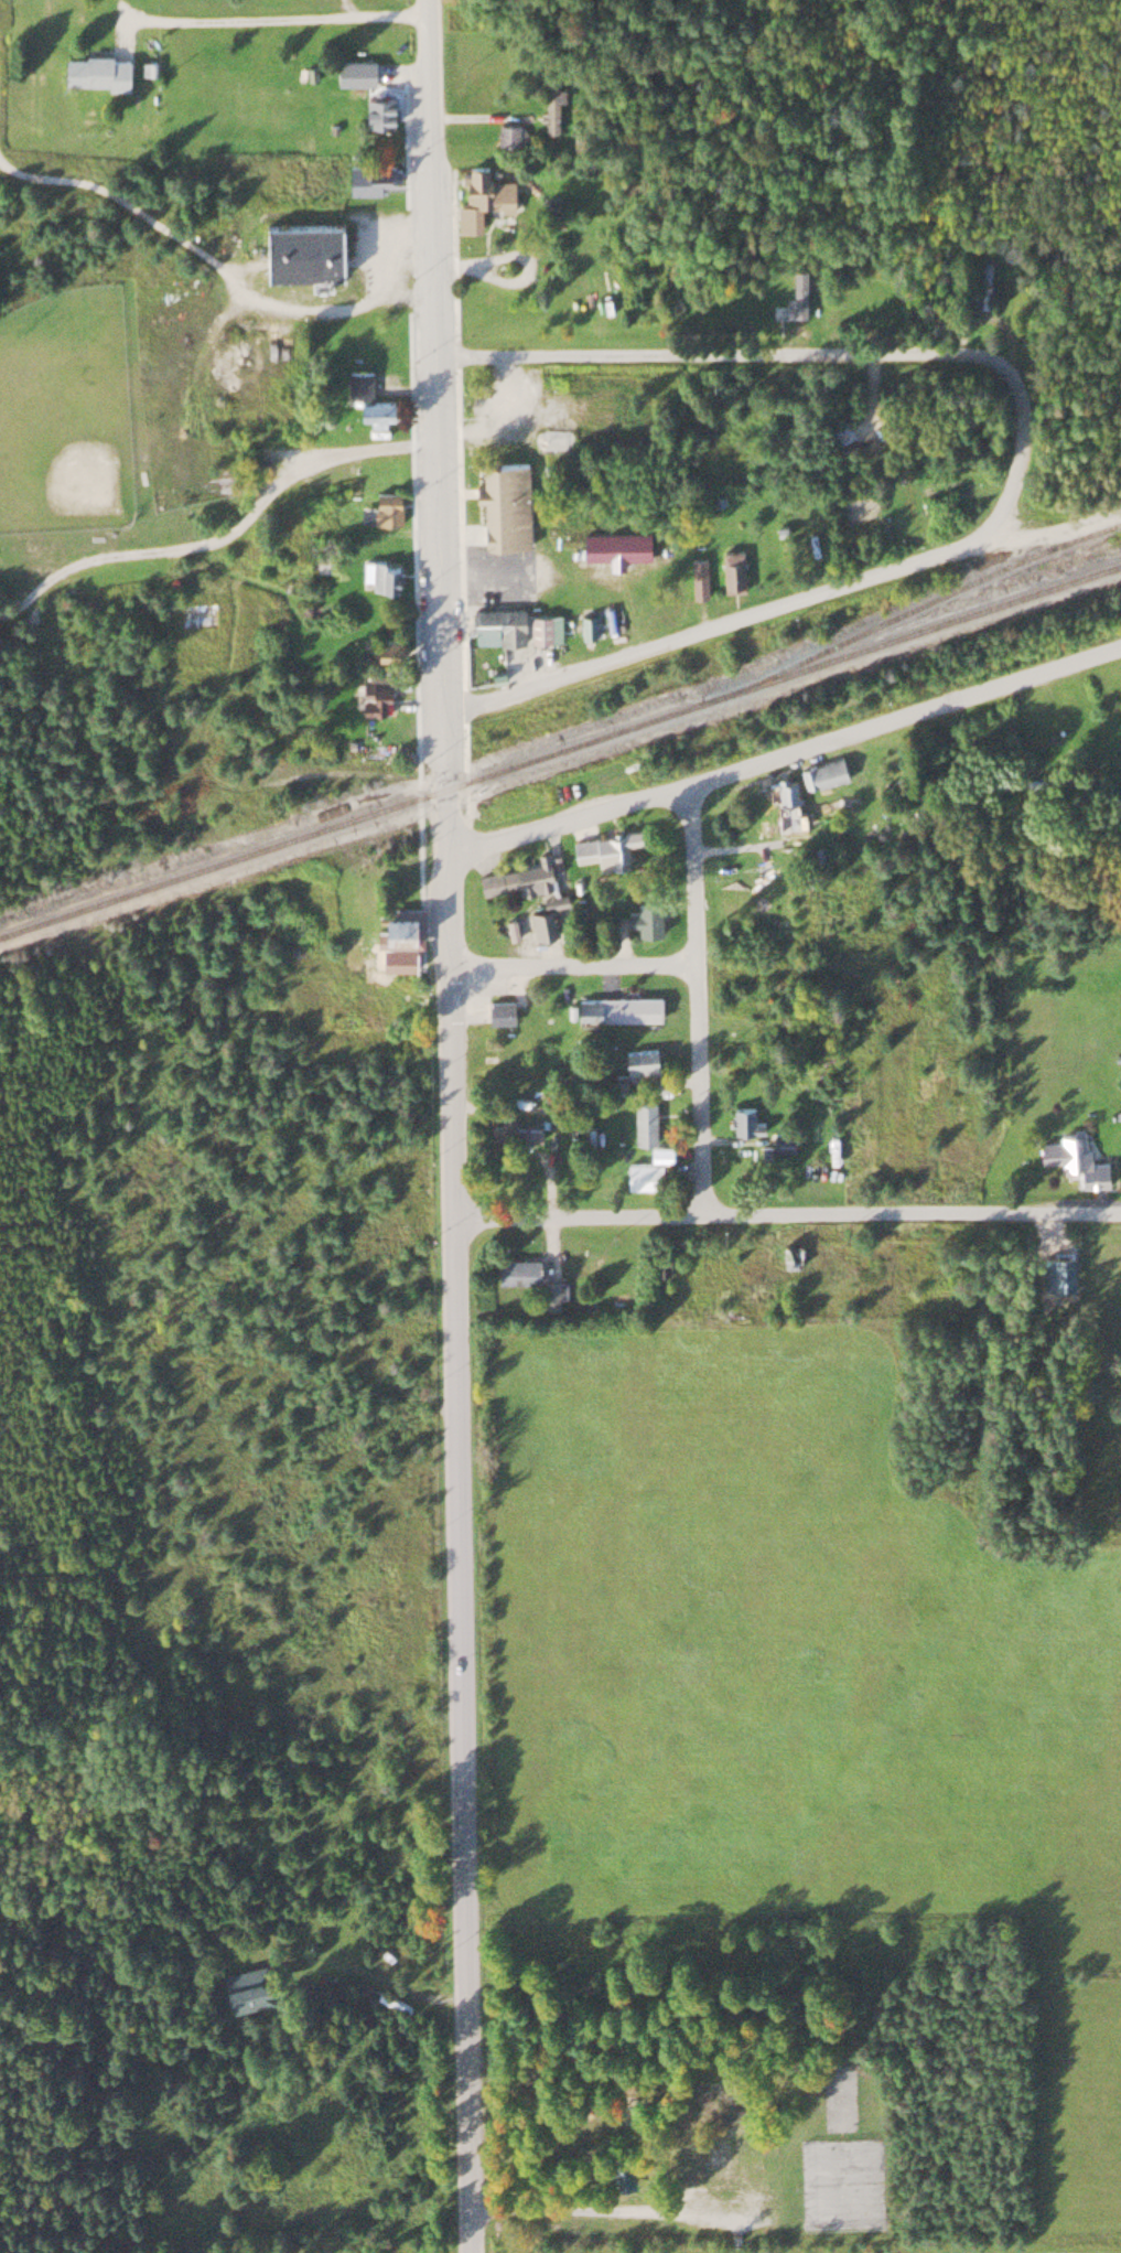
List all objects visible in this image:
road: (277, 15)
building: (94, 68)
building: (353, 71)
building: (551, 98)
building: (376, 109)
building: (506, 133)
building: (369, 176)
building: (479, 194)
building: (299, 248)
building: (985, 281)
building: (797, 290)
road: (773, 353)
building: (365, 397)
building: (504, 502)
building: (385, 505)
building: (614, 544)
building: (731, 569)
building: (384, 572)
building: (697, 577)
railway: (910, 609)
road: (750, 614)
building: (497, 624)
railway: (912, 631)
building: (371, 694)
building: (1045, 727)
road: (784, 753)
building: (822, 772)
building: (785, 804)
railway: (351, 816)
building: (604, 844)
building: (519, 872)
building: (636, 912)
building: (545, 913)
building: (396, 922)
road: (570, 962)
road: (696, 999)
building: (616, 1005)
building: (498, 1008)
building: (639, 1060)
building: (659, 1082)
building: (744, 1119)
building: (644, 1120)
road: (446, 1126)
building: (514, 1131)
building: (782, 1141)
building: (659, 1151)
building: (1074, 1157)
building: (642, 1173)
road: (784, 1213)
building: (789, 1253)
building: (660, 1263)
building: (517, 1269)
building: (550, 1288)
building: (246, 1986)
building: (390, 1998)

